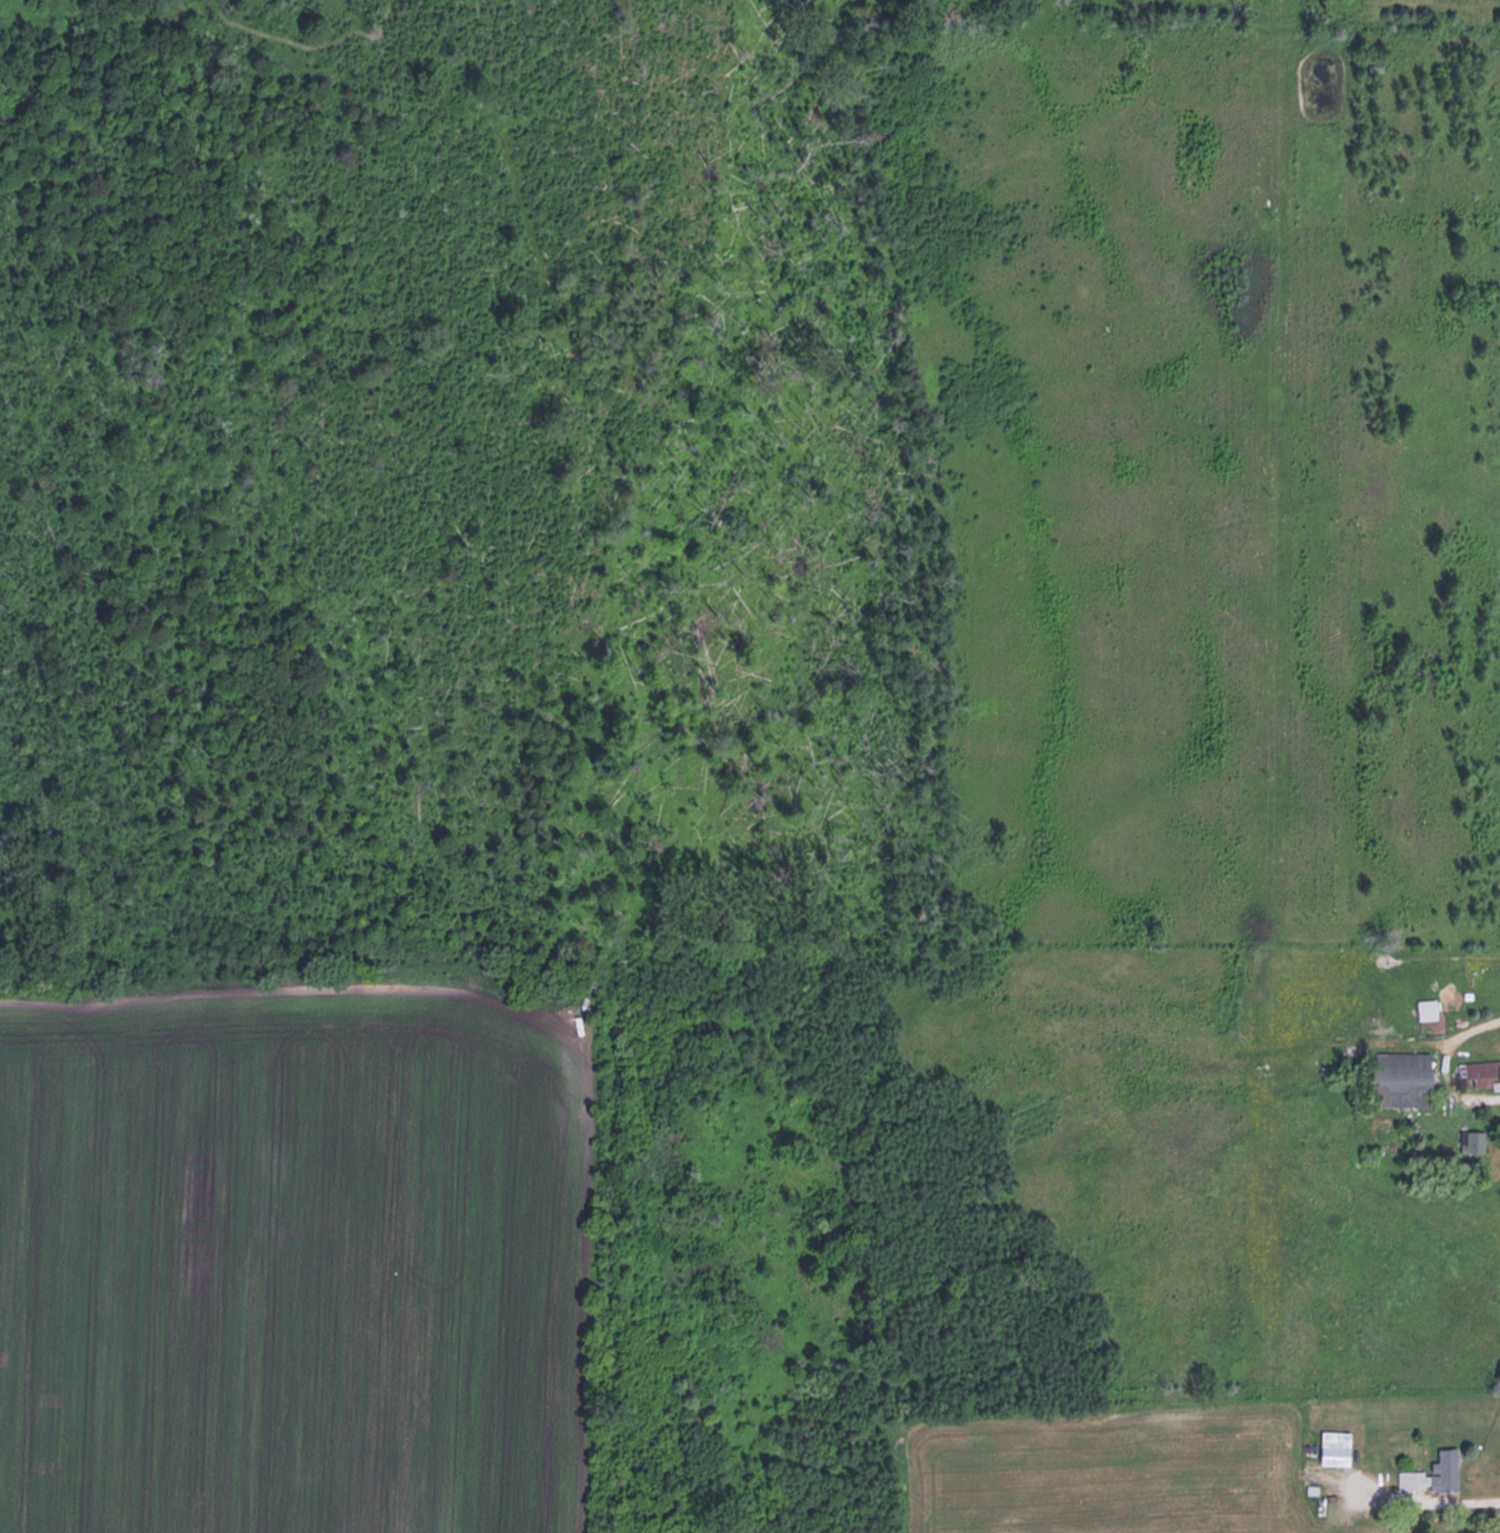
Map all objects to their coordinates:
building: (1384, 91)
road: (1431, 1061)
building: (1481, 1072)
building: (1401, 1078)
building: (1471, 1140)
building: (1335, 1446)
building: (1433, 1472)

